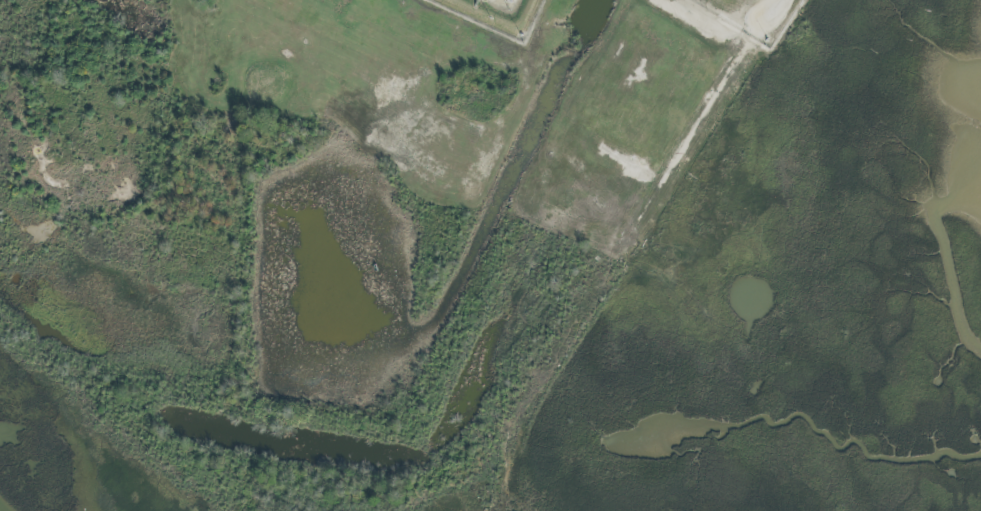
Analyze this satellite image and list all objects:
road: (628, 251)

